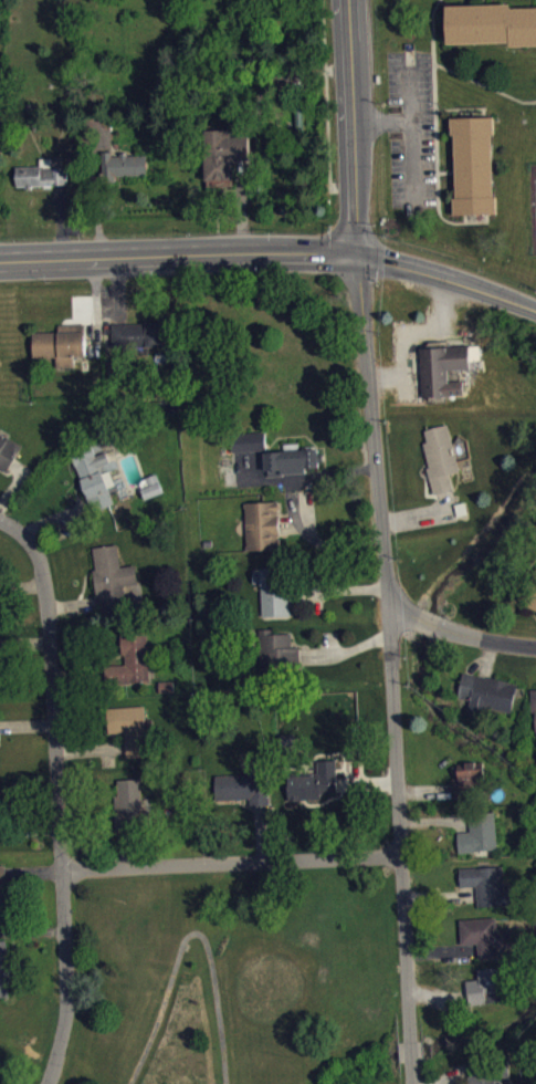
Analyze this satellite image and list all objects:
road: (484, 1)
building: (491, 23)
road: (484, 83)
road: (326, 97)
road: (451, 110)
road: (410, 114)
road: (434, 125)
road: (353, 126)
parking lot: (410, 127)
building: (223, 154)
road: (412, 163)
building: (122, 164)
building: (473, 164)
road: (445, 171)
building: (42, 174)
park: (533, 204)
traffic signals: (358, 253)
road: (178, 254)
road: (448, 275)
building: (139, 335)
building: (62, 345)
building: (446, 367)
building: (248, 440)
building: (250, 449)
building: (440, 458)
building: (9, 460)
building: (291, 460)
building: (97, 479)
building: (261, 524)
building: (113, 586)
building: (274, 588)
building: (529, 592)
road: (404, 613)
road: (427, 622)
road: (485, 637)
road: (393, 645)
building: (274, 654)
building: (133, 669)
building: (490, 702)
building: (535, 710)
building: (132, 737)
building: (470, 786)
building: (315, 791)
road: (59, 793)
building: (1, 813)
building: (133, 814)
building: (481, 842)
road: (231, 861)
building: (2, 888)
building: (488, 893)
road: (188, 931)
building: (486, 944)
building: (2, 969)
park: (233, 978)
building: (490, 994)
road: (411, 1050)
road: (412, 1072)

